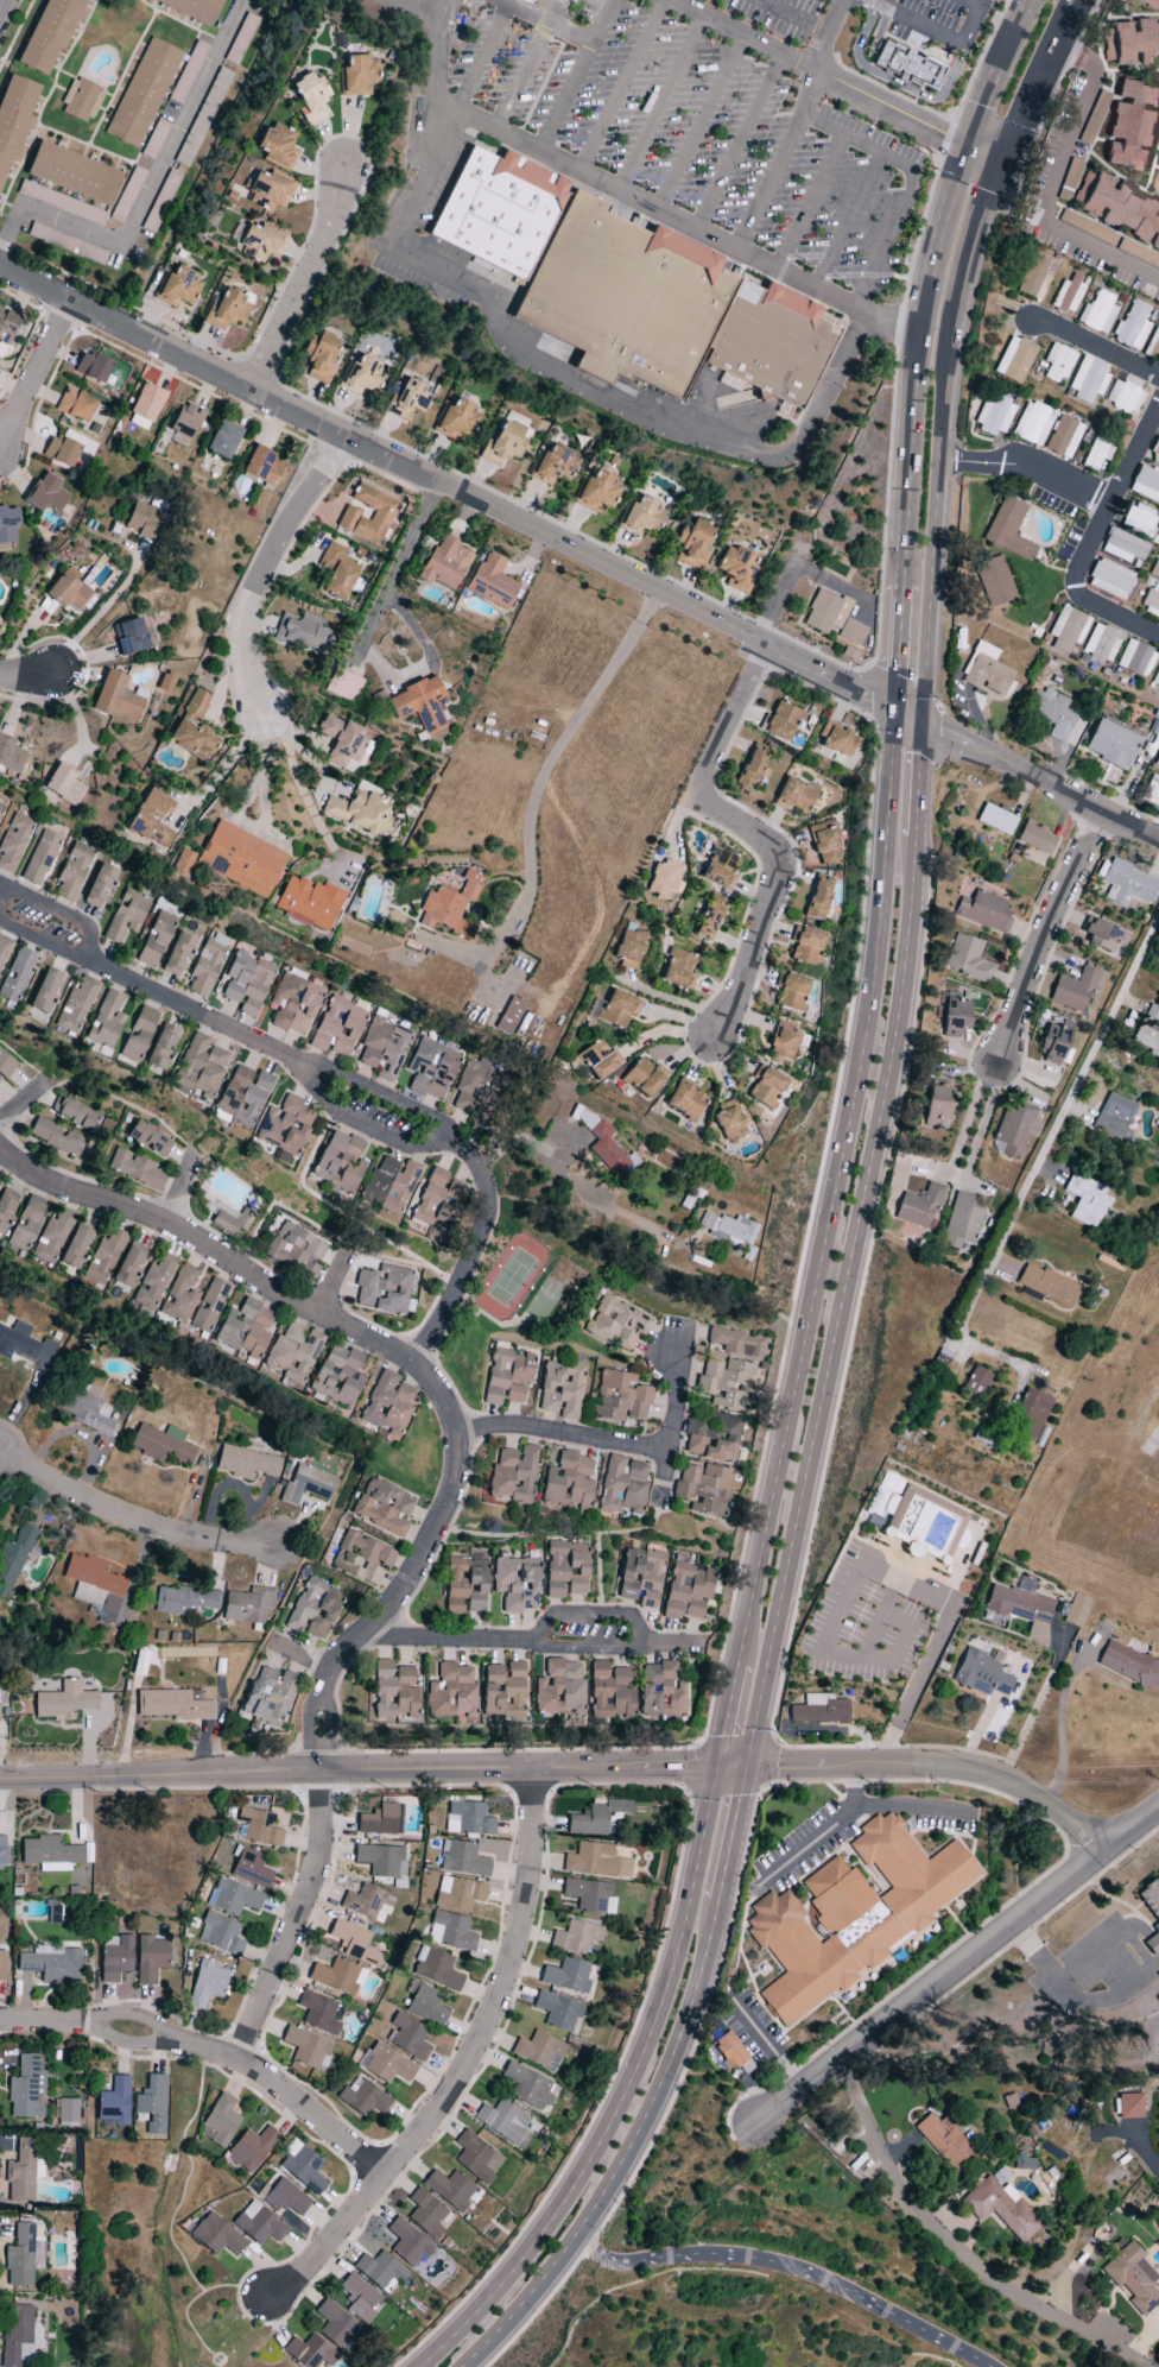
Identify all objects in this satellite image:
building: (570, 1)
road: (882, 1)
building: (527, 2)
road: (600, 4)
road: (975, 4)
building: (1148, 4)
road: (2, 6)
building: (195, 8)
road: (437, 10)
road: (792, 17)
road: (1132, 17)
road: (920, 23)
road: (550, 24)
road: (974, 26)
road: (828, 34)
building: (50, 36)
building: (1139, 43)
road: (555, 64)
building: (908, 67)
road: (1134, 70)
building: (186, 72)
road: (816, 72)
road: (995, 72)
road: (575, 75)
building: (355, 76)
road: (521, 76)
road: (1034, 81)
road: (892, 82)
road: (622, 86)
road: (891, 91)
building: (142, 93)
building: (309, 96)
building: (80, 100)
road: (659, 102)
building: (14, 118)
building: (203, 118)
road: (454, 118)
road: (701, 124)
building: (1135, 127)
road: (178, 135)
building: (153, 139)
road: (741, 143)
building: (275, 147)
road: (983, 156)
road: (901, 165)
building: (72, 173)
road: (1129, 181)
road: (1056, 182)
road: (771, 183)
building: (1158, 187)
building: (268, 190)
road: (621, 191)
road: (1153, 192)
building: (126, 195)
building: (161, 202)
road: (810, 202)
building: (62, 203)
building: (1123, 209)
building: (500, 212)
road: (49, 219)
road: (848, 220)
building: (1087, 228)
building: (259, 242)
building: (66, 244)
road: (974, 244)
building: (1138, 253)
building: (1033, 278)
road: (302, 283)
building: (178, 288)
building: (1068, 295)
building: (626, 298)
building: (227, 311)
building: (1097, 314)
building: (1132, 326)
building: (6, 330)
road: (914, 341)
building: (772, 343)
building: (1152, 346)
road: (1096, 348)
road: (897, 351)
building: (319, 356)
building: (1014, 359)
building: (1057, 364)
building: (93, 366)
road: (33, 373)
building: (362, 375)
building: (1087, 380)
building: (1122, 398)
building: (406, 399)
building: (75, 405)
building: (145, 406)
building: (993, 415)
building: (456, 419)
building: (513, 419)
road: (641, 419)
building: (186, 421)
building: (1032, 424)
building: (1062, 437)
building: (223, 440)
building: (502, 444)
building: (59, 450)
building: (1095, 454)
building: (1154, 454)
road: (847, 459)
building: (552, 465)
building: (262, 468)
road: (1027, 469)
building: (1145, 485)
road: (446, 490)
building: (597, 492)
building: (46, 494)
road: (1114, 498)
building: (384, 515)
building: (640, 516)
building: (139, 519)
building: (1136, 519)
building: (7, 524)
road: (933, 525)
building: (1008, 530)
building: (692, 543)
building: (1122, 547)
building: (445, 564)
road: (901, 564)
building: (736, 568)
road: (265, 569)
building: (1154, 569)
building: (337, 570)
road: (397, 572)
building: (1109, 579)
building: (492, 582)
building: (994, 582)
road: (829, 583)
building: (70, 591)
road: (777, 598)
building: (1151, 600)
building: (825, 612)
road: (101, 613)
road: (1115, 617)
building: (1066, 630)
building: (302, 631)
building: (850, 632)
building: (137, 638)
building: (1100, 644)
road: (897, 650)
building: (1135, 659)
building: (986, 670)
road: (26, 675)
building: (1155, 678)
building: (166, 682)
building: (343, 686)
building: (118, 698)
building: (198, 701)
building: (418, 703)
road: (749, 711)
building: (1052, 713)
road: (906, 719)
road: (730, 720)
building: (780, 722)
road: (272, 725)
building: (195, 740)
building: (837, 740)
building: (1109, 744)
building: (347, 745)
building: (11, 756)
road: (223, 763)
building: (1157, 763)
road: (315, 766)
building: (750, 768)
road: (919, 782)
road: (1040, 782)
building: (68, 783)
building: (1152, 793)
building: (793, 795)
road: (536, 797)
building: (0, 808)
building: (363, 812)
building: (156, 816)
building: (995, 820)
building: (1035, 838)
building: (13, 841)
building: (825, 842)
road: (787, 845)
building: (40, 858)
building: (242, 858)
building: (182, 861)
building: (718, 867)
building: (72, 871)
building: (661, 879)
building: (1127, 884)
building: (100, 886)
road: (768, 898)
building: (817, 898)
building: (311, 902)
building: (450, 907)
building: (983, 910)
road: (57, 914)
building: (126, 916)
building: (709, 919)
road: (1041, 933)
building: (1103, 936)
building: (156, 939)
building: (805, 946)
building: (4, 948)
building: (629, 949)
building: (178, 954)
building: (967, 959)
building: (205, 965)
building: (678, 970)
building: (17, 974)
building: (247, 983)
building: (46, 991)
building: (1072, 991)
building: (791, 992)
building: (294, 1004)
building: (76, 1005)
building: (617, 1008)
building: (1152, 1015)
building: (509, 1016)
building: (955, 1017)
building: (106, 1021)
building: (337, 1027)
road: (672, 1031)
building: (139, 1035)
building: (1147, 1040)
building: (1052, 1043)
building: (783, 1044)
building: (161, 1047)
building: (384, 1049)
building: (600, 1060)
building: (6, 1066)
building: (199, 1066)
road: (1084, 1066)
building: (431, 1069)
building: (644, 1078)
road: (336, 1082)
building: (766, 1087)
building: (474, 1088)
building: (242, 1096)
road: (21, 1100)
building: (685, 1102)
building: (937, 1105)
building: (75, 1115)
building: (1114, 1117)
road: (974, 1119)
building: (729, 1124)
building: (285, 1125)
building: (1016, 1126)
building: (58, 1140)
building: (148, 1140)
building: (603, 1145)
building: (1011, 1153)
building: (340, 1162)
building: (134, 1169)
road: (179, 1183)
building: (391, 1183)
road: (577, 1186)
road: (831, 1189)
building: (435, 1200)
building: (1085, 1201)
building: (918, 1206)
building: (5, 1211)
building: (962, 1220)
building: (232, 1222)
building: (26, 1224)
building: (728, 1229)
building: (914, 1233)
building: (53, 1236)
building: (75, 1246)
building: (294, 1251)
building: (104, 1257)
building: (128, 1265)
building: (152, 1286)
building: (1047, 1286)
road: (334, 1288)
building: (384, 1289)
building: (180, 1295)
road: (842, 1305)
building: (209, 1306)
road: (965, 1318)
building: (616, 1324)
building: (246, 1330)
building: (737, 1343)
building: (24, 1344)
building: (292, 1355)
road: (410, 1362)
building: (338, 1376)
building: (507, 1376)
building: (975, 1382)
building: (726, 1383)
building: (560, 1389)
road: (678, 1390)
building: (620, 1399)
building: (388, 1403)
building: (87, 1410)
building: (1030, 1414)
road: (562, 1434)
building: (711, 1438)
building: (989, 1439)
building: (160, 1445)
building: (246, 1463)
road: (666, 1467)
building: (513, 1473)
building: (569, 1482)
building: (306, 1484)
building: (622, 1487)
building: (703, 1488)
building: (382, 1508)
road: (129, 1521)
building: (926, 1521)
building: (13, 1559)
building: (361, 1559)
road: (879, 1565)
building: (565, 1571)
building: (641, 1577)
building: (465, 1584)
building: (517, 1584)
building: (94, 1585)
building: (686, 1590)
building: (184, 1601)
building: (247, 1605)
building: (1021, 1607)
building: (313, 1609)
building: (1073, 1610)
road: (591, 1614)
road: (520, 1643)
building: (139, 1662)
building: (1130, 1666)
building: (980, 1674)
building: (558, 1689)
building: (394, 1690)
building: (610, 1691)
building: (502, 1692)
building: (660, 1692)
building: (451, 1693)
building: (268, 1696)
building: (63, 1702)
building: (175, 1705)
building: (819, 1710)
road: (728, 1716)
road: (1059, 1718)
road: (729, 1769)
road: (356, 1770)
road: (936, 1770)
road: (1092, 1770)
road: (912, 1810)
building: (597, 1818)
building: (467, 1819)
building: (380, 1820)
building: (259, 1828)
road: (823, 1831)
road: (729, 1835)
building: (2, 1851)
building: (50, 1854)
building: (381, 1860)
building: (462, 1860)
building: (596, 1862)
building: (249, 1869)
building: (457, 1894)
building: (589, 1896)
building: (233, 1898)
building: (367, 1904)
building: (1151, 1912)
building: (851, 1915)
road: (298, 1919)
building: (450, 1932)
building: (220, 1934)
building: (576, 1937)
building: (354, 1943)
building: (150, 1958)
building: (51, 1963)
building: (1, 1965)
road: (959, 1968)
building: (436, 1969)
building: (335, 1976)
building: (566, 1976)
building: (205, 1984)
building: (424, 2003)
building: (558, 2012)
building: (318, 2013)
building: (407, 2037)
building: (308, 2049)
road: (210, 2051)
building: (539, 2051)
building: (728, 2051)
road: (464, 2063)
building: (385, 2064)
building: (527, 2087)
building: (26, 2089)
road: (623, 2095)
building: (362, 2097)
building: (114, 2102)
building: (152, 2104)
building: (1128, 2107)
building: (68, 2113)
building: (221, 2120)
building: (503, 2123)
building: (945, 2141)
building: (252, 2148)
road: (623, 2153)
road: (1144, 2154)
building: (476, 2158)
building: (1024, 2164)
building: (302, 2167)
building: (20, 2173)
building: (450, 2189)
building: (283, 2198)
building: (1001, 2208)
building: (425, 2214)
building: (258, 2224)
building: (216, 2236)
building: (407, 2243)
road: (956, 2249)
building: (24, 2254)
road: (790, 2265)
building: (380, 2271)
building: (1132, 2278)
building: (360, 2298)
building: (336, 2325)
building: (17, 2336)
building: (310, 2353)

